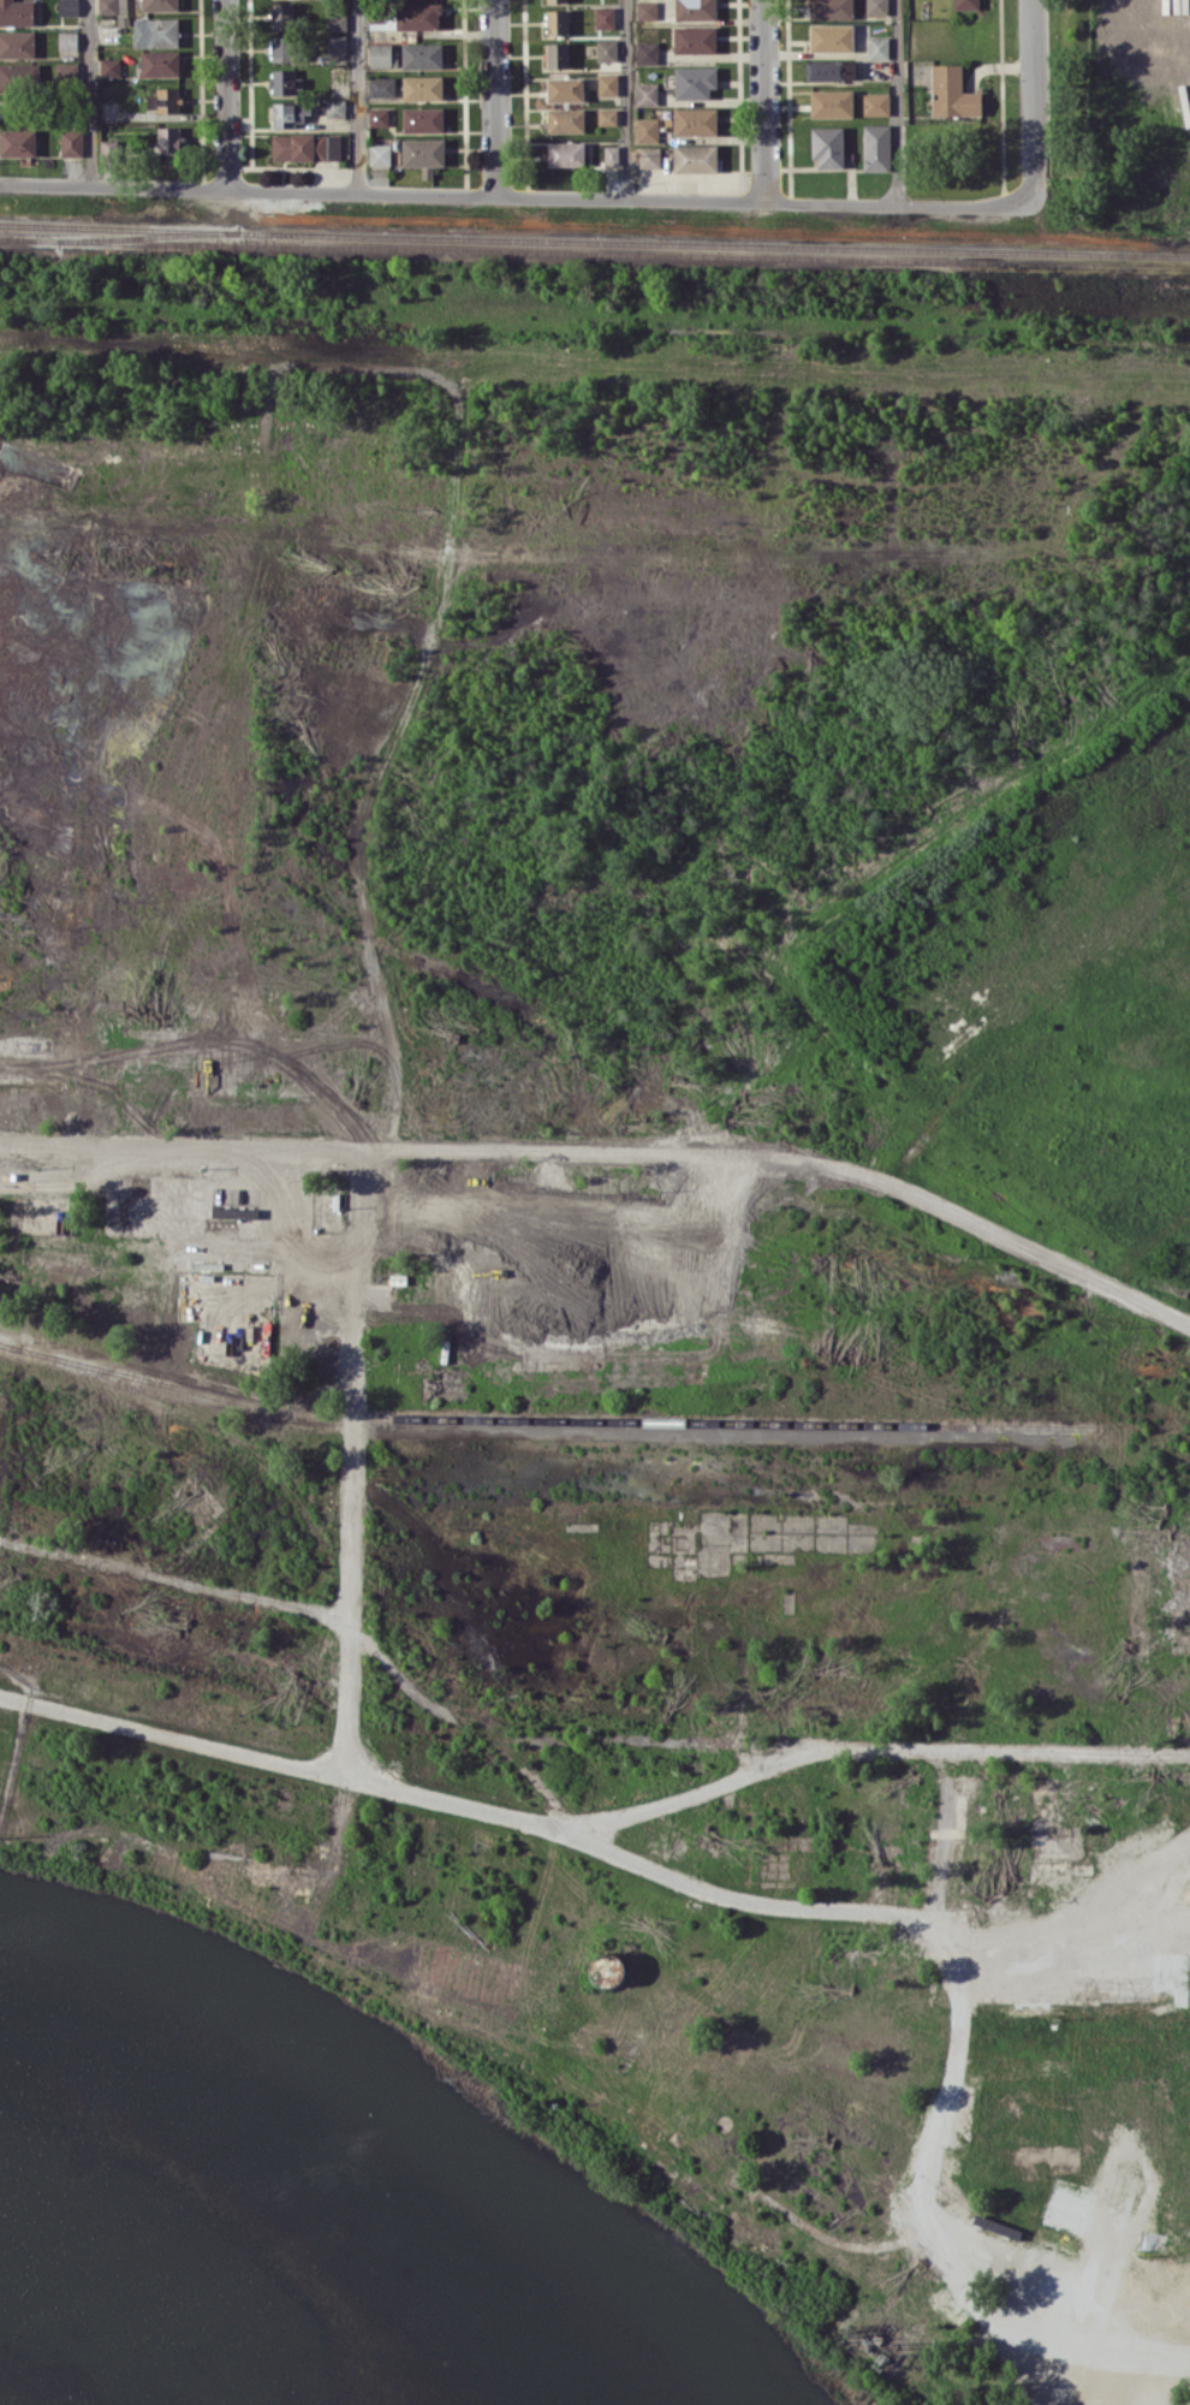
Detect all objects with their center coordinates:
building: (555, 0)
building: (964, 4)
building: (159, 5)
building: (107, 6)
building: (876, 6)
building: (67, 7)
building: (831, 8)
building: (647, 10)
building: (695, 10)
building: (16, 12)
building: (281, 16)
building: (417, 16)
building: (376, 17)
building: (603, 17)
building: (335, 18)
building: (557, 22)
building: (155, 31)
building: (831, 37)
building: (694, 38)
building: (67, 40)
building: (17, 43)
building: (335, 43)
building: (877, 47)
building: (281, 48)
building: (606, 49)
road: (1125, 51)
building: (647, 52)
building: (380, 54)
building: (557, 54)
building: (421, 55)
building: (159, 63)
building: (109, 66)
building: (829, 70)
building: (67, 72)
building: (19, 76)
building: (285, 82)
building: (694, 82)
building: (607, 84)
building: (381, 85)
building: (422, 87)
building: (565, 89)
road: (90, 93)
building: (645, 93)
building: (952, 93)
road: (226, 94)
road: (1035, 95)
road: (357, 96)
road: (494, 97)
road: (629, 99)
building: (163, 100)
road: (764, 101)
building: (831, 102)
road: (896, 102)
building: (875, 103)
building: (334, 107)
building: (290, 113)
building: (377, 117)
building: (606, 117)
building: (422, 119)
building: (565, 120)
building: (694, 120)
building: (645, 130)
building: (168, 139)
building: (17, 142)
building: (71, 142)
building: (827, 146)
building: (305, 147)
building: (876, 147)
building: (108, 148)
building: (565, 153)
building: (379, 154)
building: (423, 154)
building: (611, 154)
building: (649, 156)
building: (695, 158)
road: (518, 196)
railway: (150, 236)
railway: (594, 240)
railway: (595, 253)
road: (388, 764)
landfill: (1049, 985)
road: (612, 1152)
building: (234, 1212)
railway: (10, 1344)
railway: (543, 1419)
road: (350, 1459)
road: (326, 1616)
road: (591, 1822)
building: (609, 1968)
road: (951, 2005)
road: (620, 2114)
river: (392, 2131)
road: (1188, 2403)

